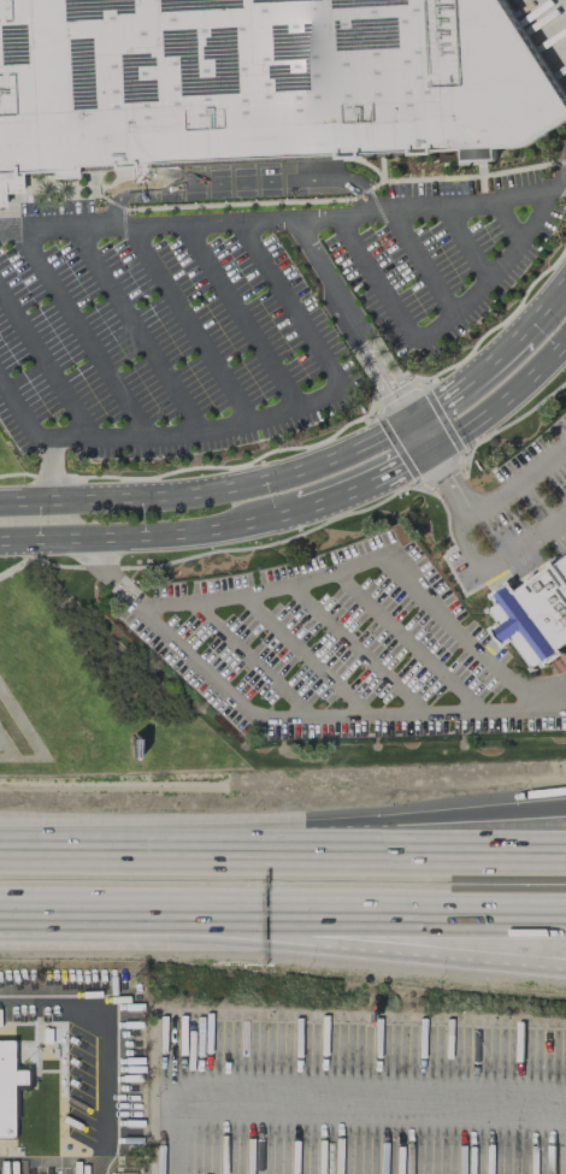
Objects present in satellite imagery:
road: (565, 0)
building: (263, 81)
road: (479, 161)
road: (560, 161)
road: (454, 163)
road: (369, 166)
road: (517, 169)
road: (479, 170)
road: (564, 171)
road: (379, 172)
road: (443, 176)
road: (564, 178)
road: (92, 179)
road: (234, 187)
road: (48, 188)
road: (360, 191)
road: (372, 200)
road: (236, 203)
road: (120, 207)
road: (284, 219)
road: (506, 224)
road: (464, 243)
road: (420, 264)
road: (494, 273)
road: (375, 279)
road: (542, 302)
road: (238, 315)
road: (349, 317)
road: (501, 320)
road: (187, 324)
road: (136, 330)
road: (83, 334)
road: (493, 355)
road: (45, 366)
road: (438, 396)
road: (501, 399)
road: (249, 421)
road: (419, 433)
road: (464, 460)
park: (12, 465)
road: (193, 467)
road: (400, 467)
road: (51, 468)
road: (519, 477)
road: (211, 486)
road: (334, 496)
road: (197, 530)
road: (48, 537)
road: (213, 551)
road: (470, 551)
road: (362, 561)
building: (536, 615)
road: (542, 685)
park: (84, 691)
road: (285, 718)
road: (450, 831)
road: (206, 853)
road: (450, 853)
road: (37, 854)
road: (283, 920)
road: (283, 943)
road: (114, 1028)
building: (10, 1087)
road: (346, 1117)

